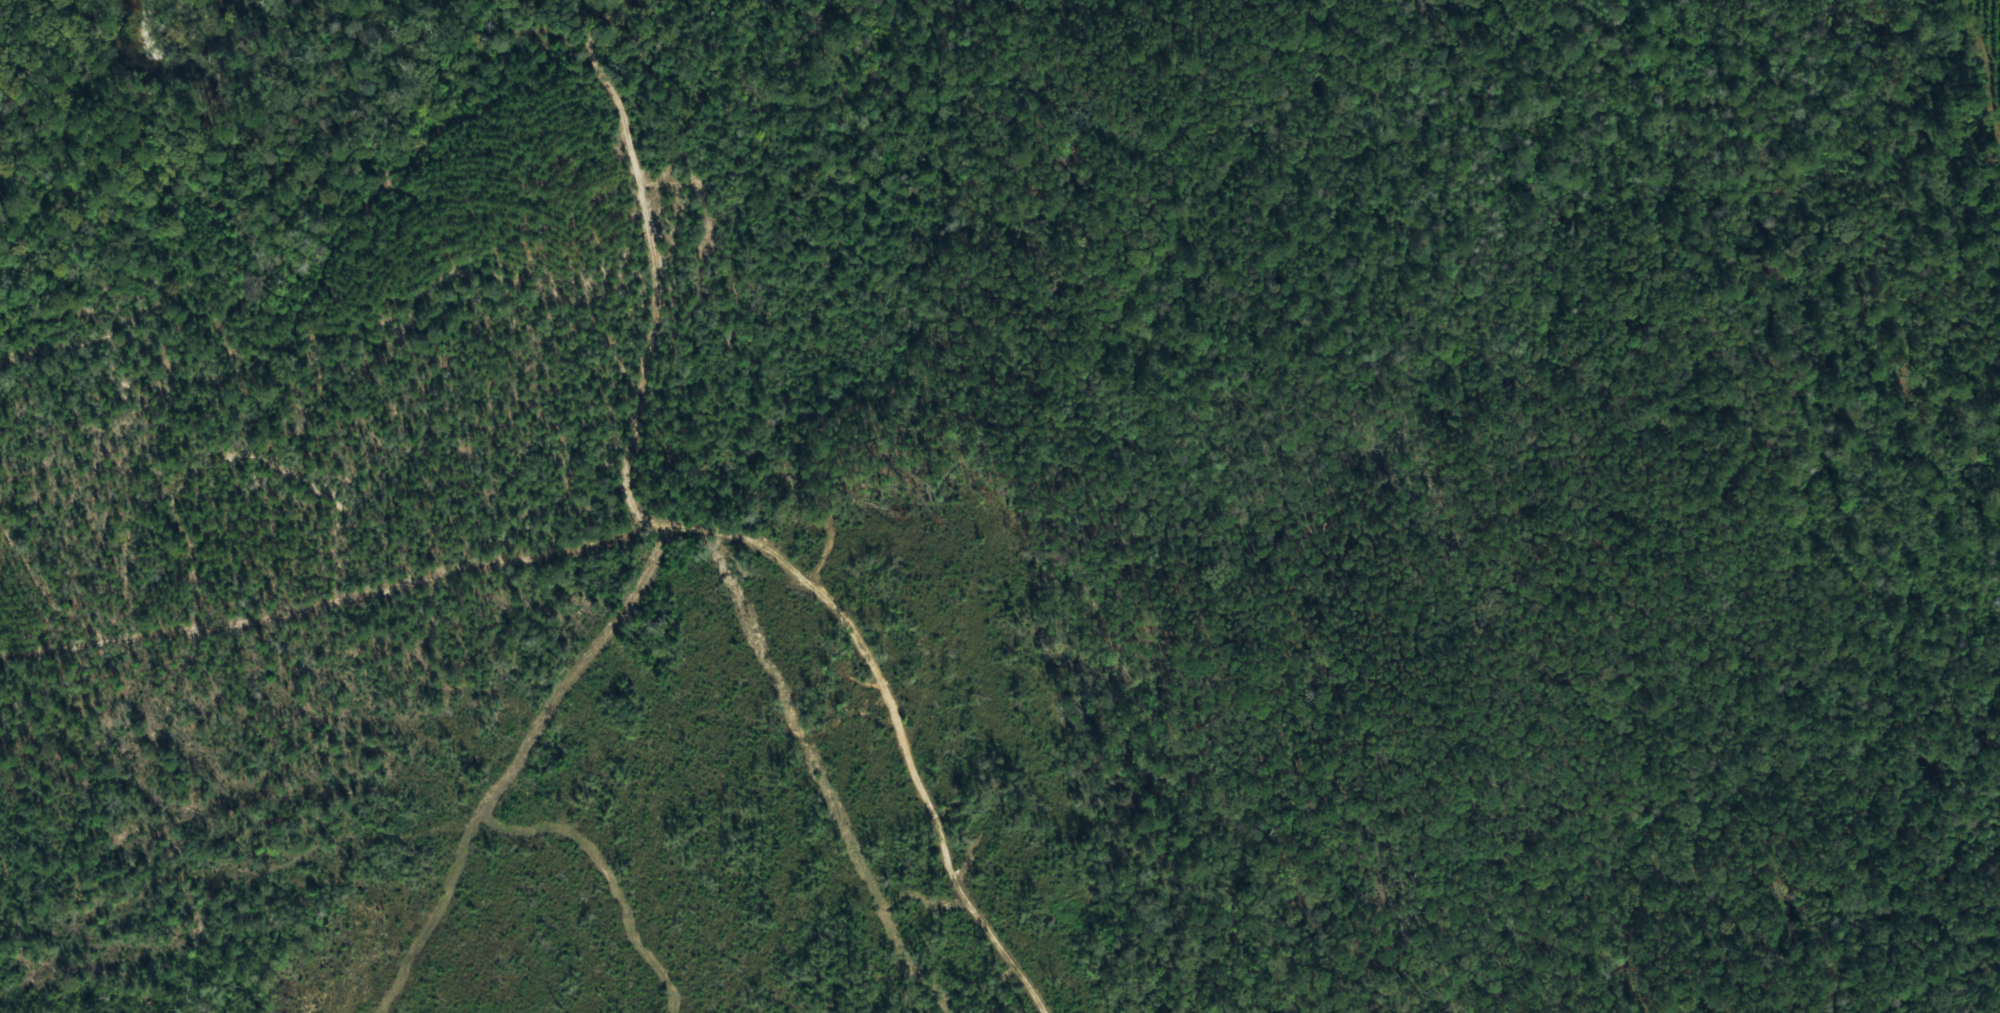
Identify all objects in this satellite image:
road: (997, 955)

